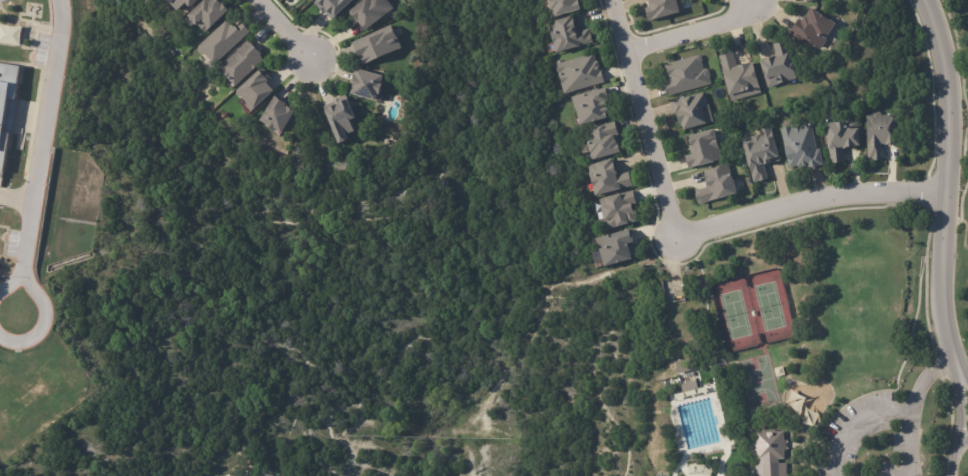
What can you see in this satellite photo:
building: (806, 0)
building: (967, 1)
building: (149, 2)
building: (183, 3)
building: (335, 6)
building: (567, 7)
building: (665, 9)
building: (373, 12)
building: (210, 15)
building: (813, 30)
road: (693, 31)
road: (283, 32)
building: (568, 34)
building: (10, 37)
building: (225, 41)
building: (381, 45)
building: (245, 63)
building: (779, 66)
building: (581, 73)
building: (688, 76)
building: (741, 78)
building: (371, 86)
building: (258, 91)
building: (7, 104)
building: (596, 107)
building: (696, 112)
building: (279, 116)
building: (344, 119)
building: (883, 134)
road: (42, 136)
building: (845, 138)
building: (607, 142)
building: (805, 147)
building: (706, 150)
building: (764, 154)
building: (612, 178)
road: (943, 183)
building: (720, 186)
building: (623, 210)
road: (688, 235)
road: (965, 235)
building: (619, 248)
park: (769, 306)
road: (42, 307)
park: (734, 314)
park: (787, 355)
road: (962, 376)
road: (924, 379)
park: (757, 380)
building: (689, 385)
road: (960, 408)
road: (855, 425)
parking lot: (868, 440)
road: (910, 447)
building: (769, 452)
road: (953, 454)
building: (265, 474)

